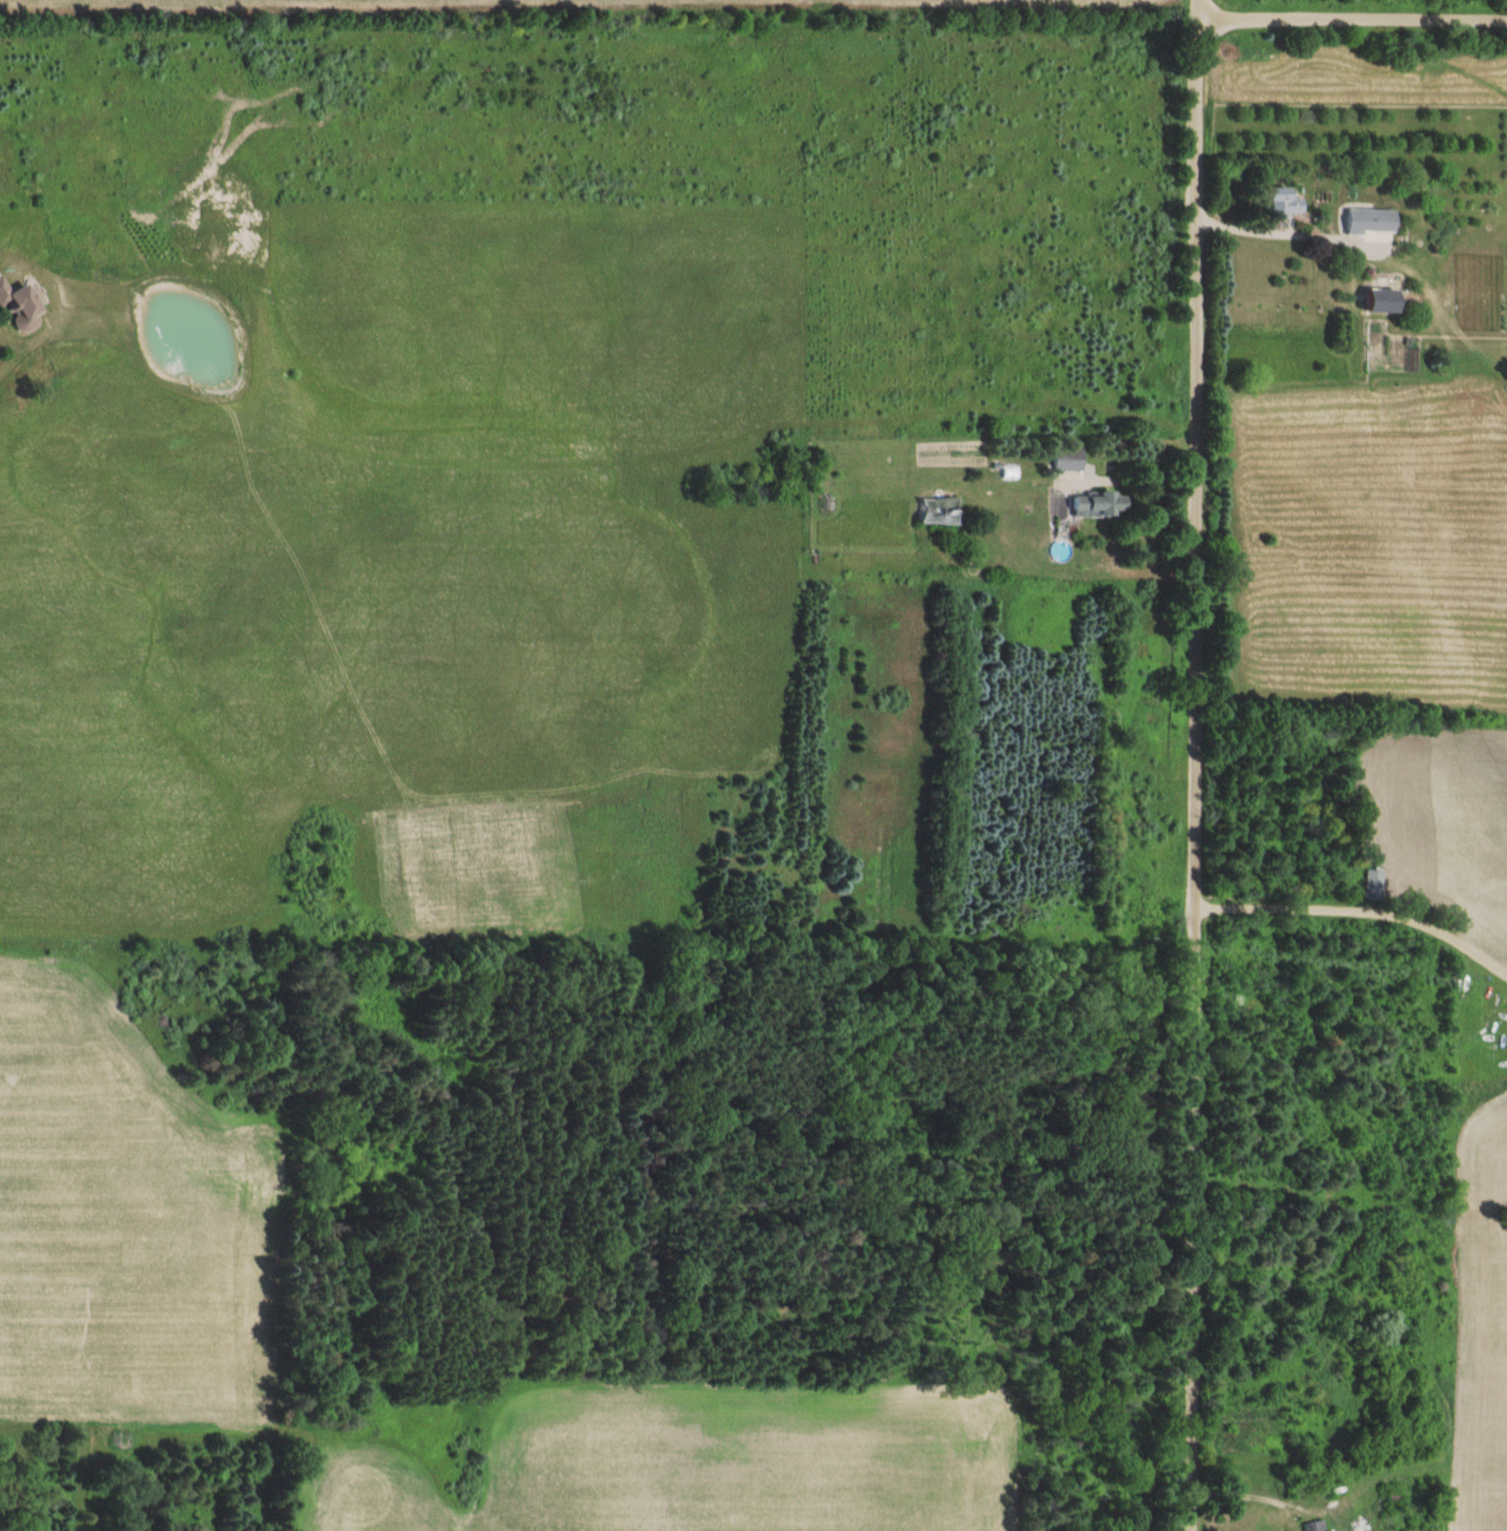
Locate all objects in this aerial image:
road: (1353, 20)
building: (1284, 204)
building: (1367, 222)
road: (1284, 234)
building: (1382, 301)
building: (20, 307)
building: (1067, 459)
road: (1142, 480)
building: (1098, 504)
building: (936, 511)
road: (1196, 765)
building: (1372, 884)
road: (1361, 900)
building: (1309, 1527)

